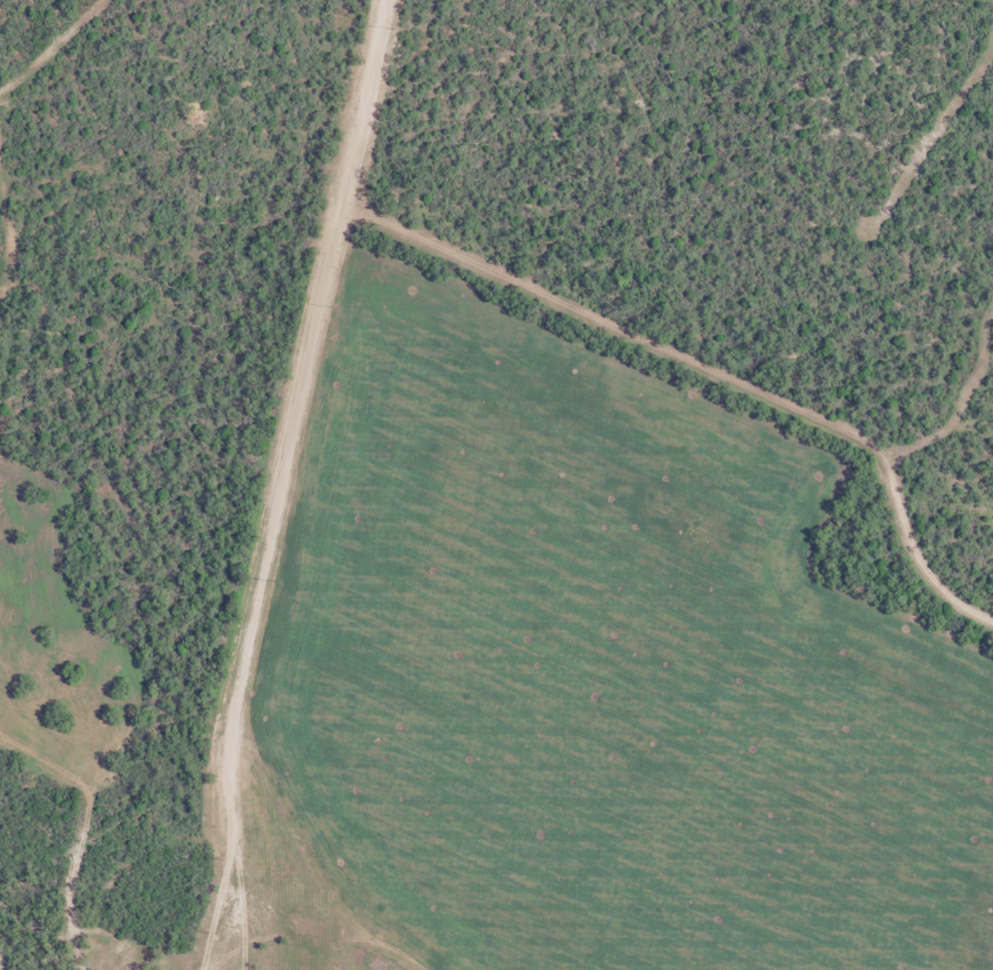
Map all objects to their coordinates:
road: (272, 481)

